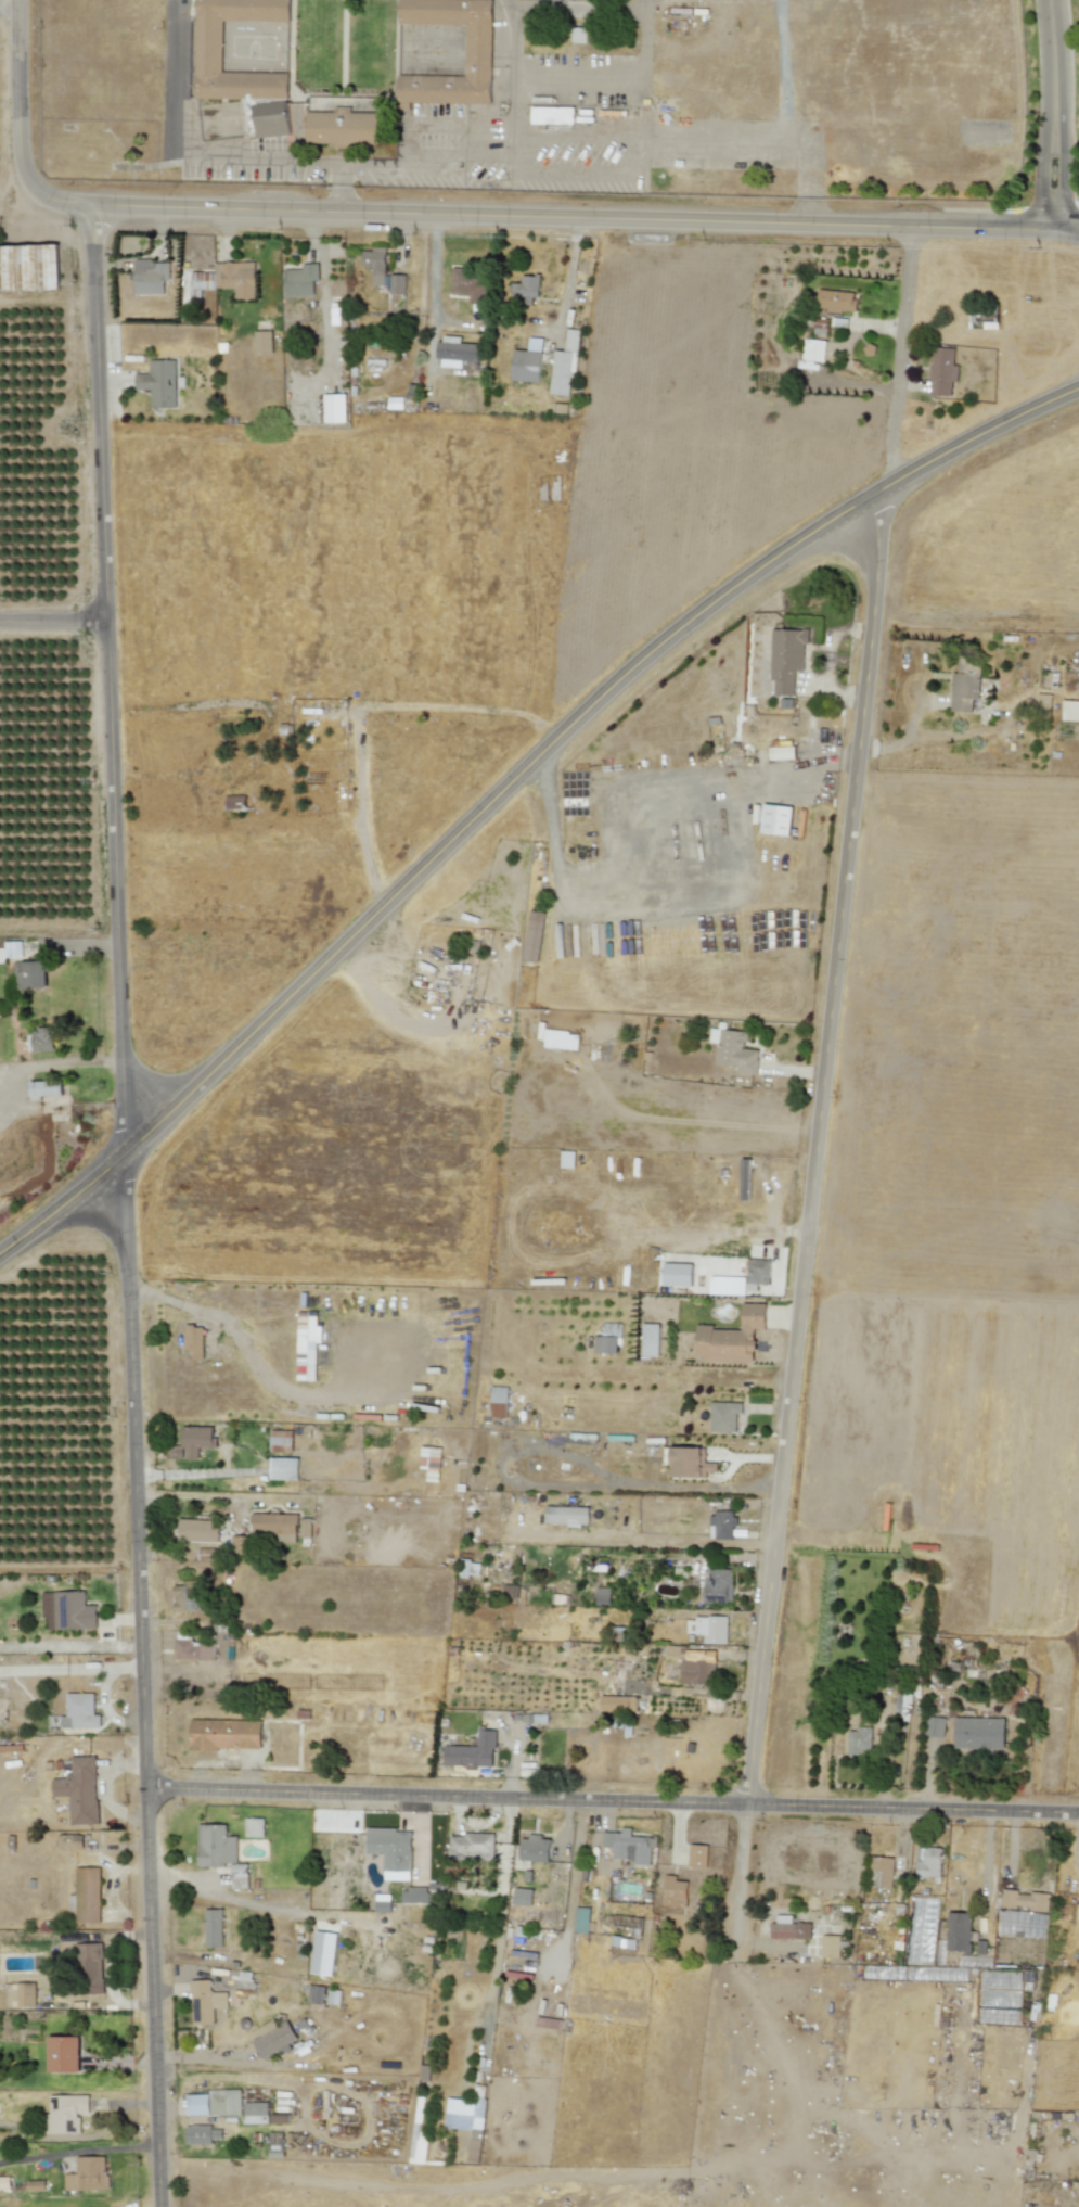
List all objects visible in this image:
road: (8, 3)
building: (578, 35)
building: (479, 50)
building: (209, 55)
road: (1054, 111)
building: (552, 115)
building: (272, 118)
road: (15, 126)
building: (343, 127)
road: (627, 139)
road: (182, 152)
building: (85, 156)
road: (409, 163)
road: (573, 213)
road: (1067, 224)
building: (374, 264)
building: (29, 267)
building: (151, 277)
building: (236, 278)
building: (300, 280)
building: (201, 282)
building: (397, 283)
building: (468, 284)
building: (526, 289)
building: (836, 301)
building: (820, 327)
building: (262, 342)
building: (813, 349)
building: (455, 352)
road: (902, 354)
building: (527, 361)
building: (565, 366)
building: (942, 371)
building: (159, 383)
building: (334, 408)
road: (982, 434)
road: (56, 620)
building: (787, 658)
road: (114, 677)
building: (963, 687)
building: (1070, 711)
building: (781, 752)
road: (624, 794)
road: (496, 801)
building: (234, 802)
building: (776, 819)
road: (703, 898)
building: (532, 936)
building: (11, 951)
building: (30, 973)
building: (558, 1038)
building: (40, 1039)
building: (734, 1050)
road: (61, 1061)
building: (46, 1088)
building: (567, 1159)
building: (745, 1178)
road: (65, 1204)
building: (757, 1273)
building: (677, 1274)
building: (727, 1286)
road: (800, 1331)
building: (731, 1337)
building: (194, 1340)
building: (650, 1340)
building: (306, 1344)
building: (604, 1344)
road: (336, 1393)
building: (499, 1402)
building: (723, 1416)
building: (280, 1441)
building: (192, 1442)
road: (749, 1459)
building: (431, 1462)
building: (689, 1462)
building: (283, 1468)
road: (211, 1494)
building: (566, 1515)
building: (721, 1525)
building: (275, 1526)
building: (305, 1527)
building: (197, 1530)
road: (678, 1542)
building: (239, 1545)
building: (468, 1568)
building: (718, 1585)
building: (509, 1591)
building: (184, 1596)
building: (603, 1596)
building: (67, 1610)
building: (708, 1629)
building: (193, 1650)
building: (691, 1667)
road: (146, 1679)
building: (902, 1701)
building: (618, 1704)
building: (79, 1711)
building: (934, 1726)
building: (978, 1733)
building: (224, 1734)
building: (859, 1742)
building: (472, 1752)
building: (79, 1790)
road: (615, 1800)
building: (253, 1827)
building: (69, 1841)
building: (216, 1846)
building: (471, 1846)
building: (629, 1846)
building: (534, 1848)
building: (391, 1851)
building: (697, 1855)
building: (929, 1863)
building: (881, 1872)
building: (239, 1876)
building: (673, 1891)
building: (421, 1893)
building: (86, 1896)
building: (522, 1897)
building: (1024, 1900)
building: (382, 1903)
building: (924, 1911)
building: (581, 1919)
building: (1006, 1922)
building: (213, 1927)
building: (789, 1928)
building: (959, 1931)
building: (830, 1946)
building: (323, 1953)
building: (89, 1967)
building: (245, 1983)
building: (20, 1994)
building: (316, 1994)
building: (333, 1996)
building: (205, 2002)
building: (273, 2038)
building: (63, 2054)
building: (214, 2103)
building: (255, 2113)
building: (64, 2114)
building: (279, 2117)
building: (468, 2119)
building: (202, 2133)
building: (88, 2173)
building: (35, 2185)

